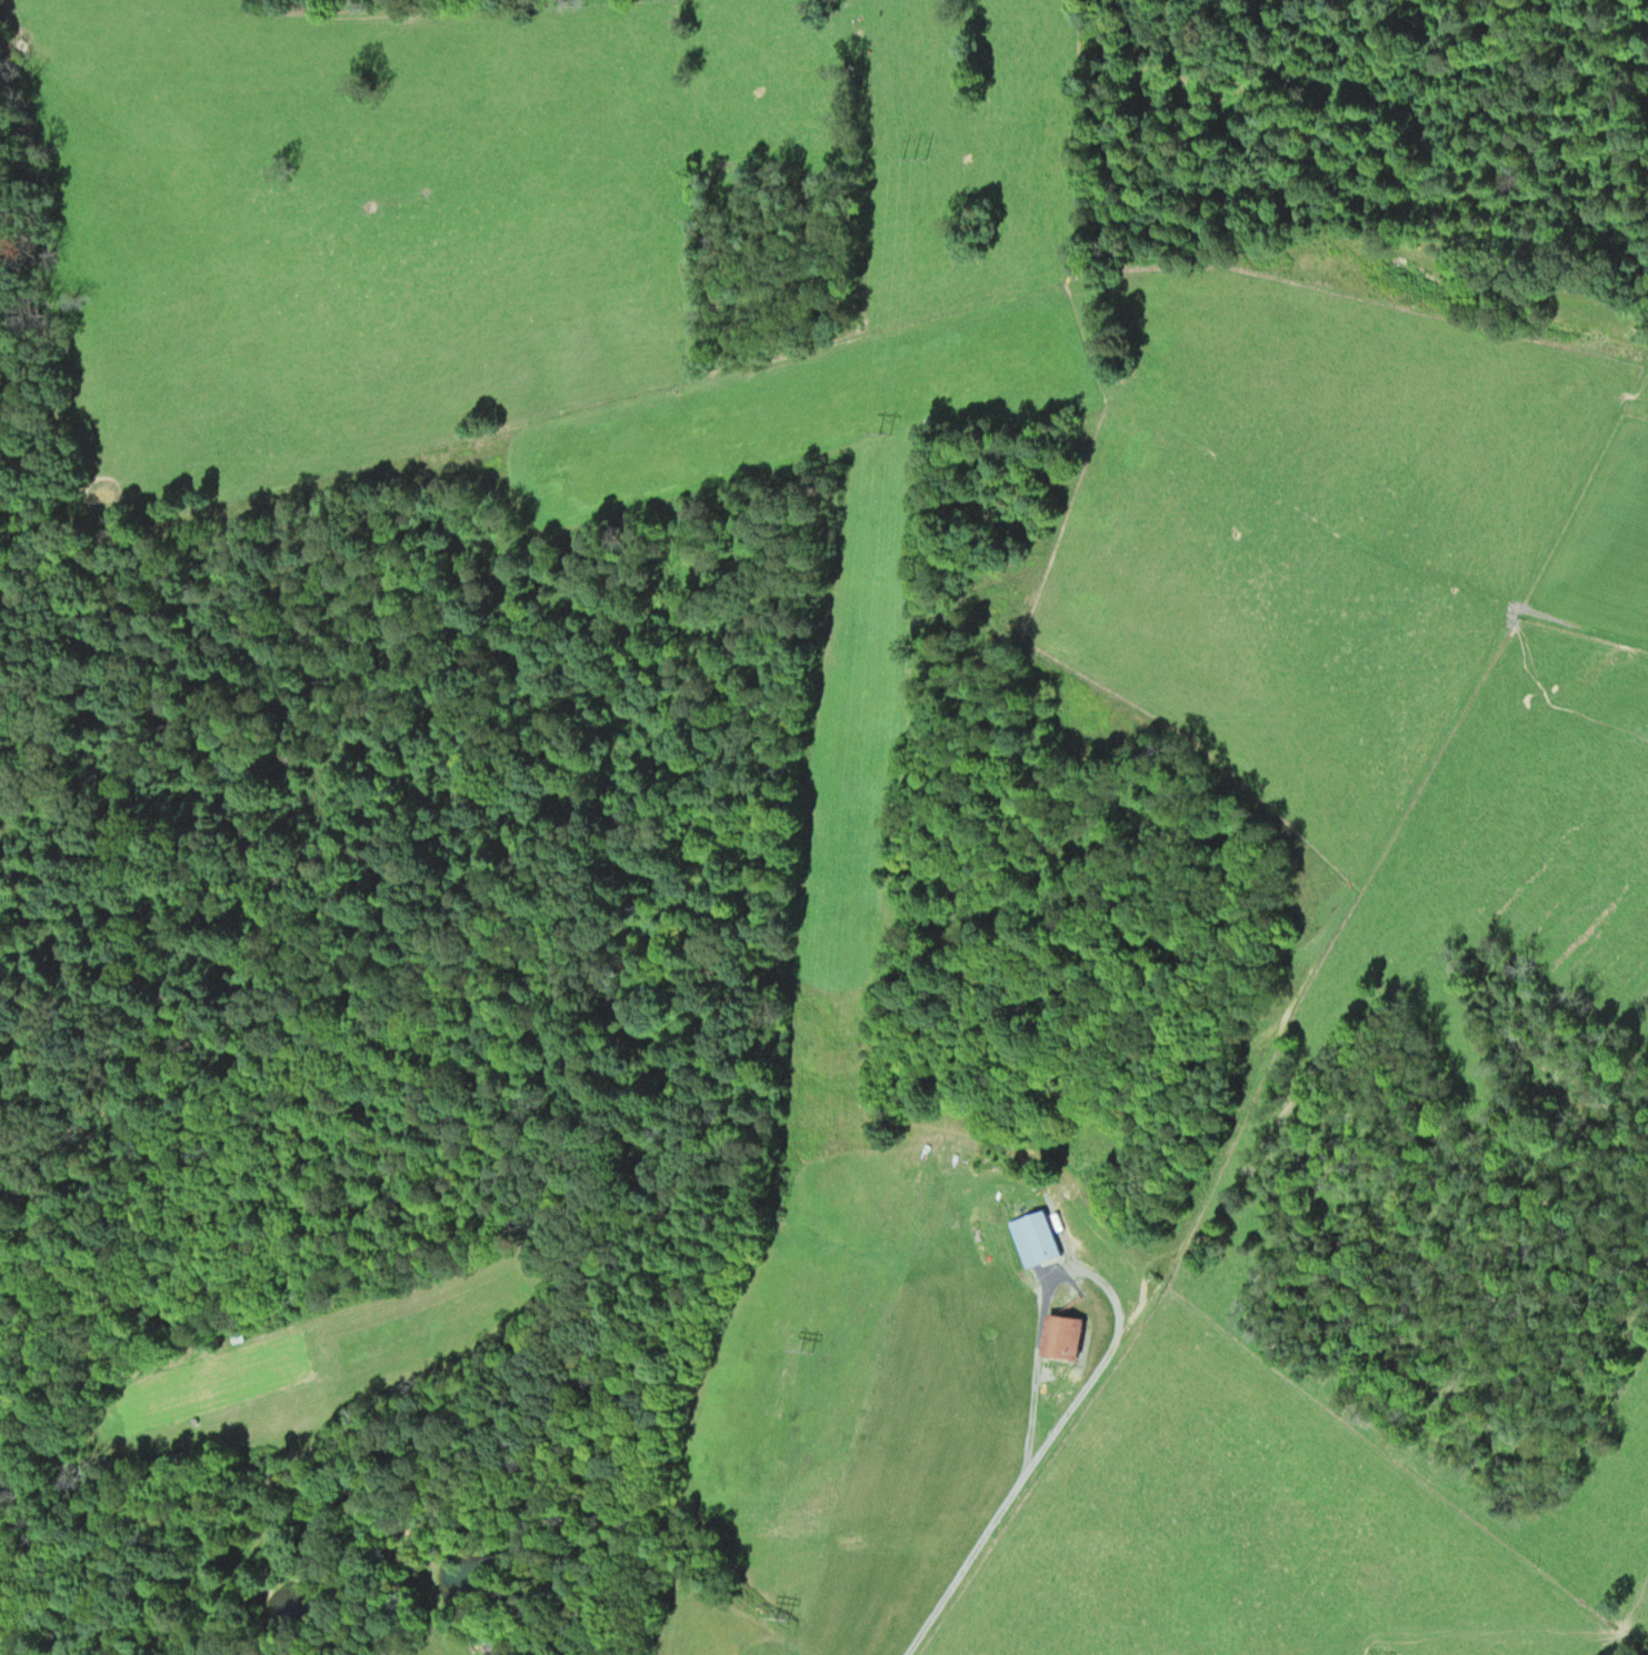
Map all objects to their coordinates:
building: (1037, 1239)
building: (1063, 1336)

